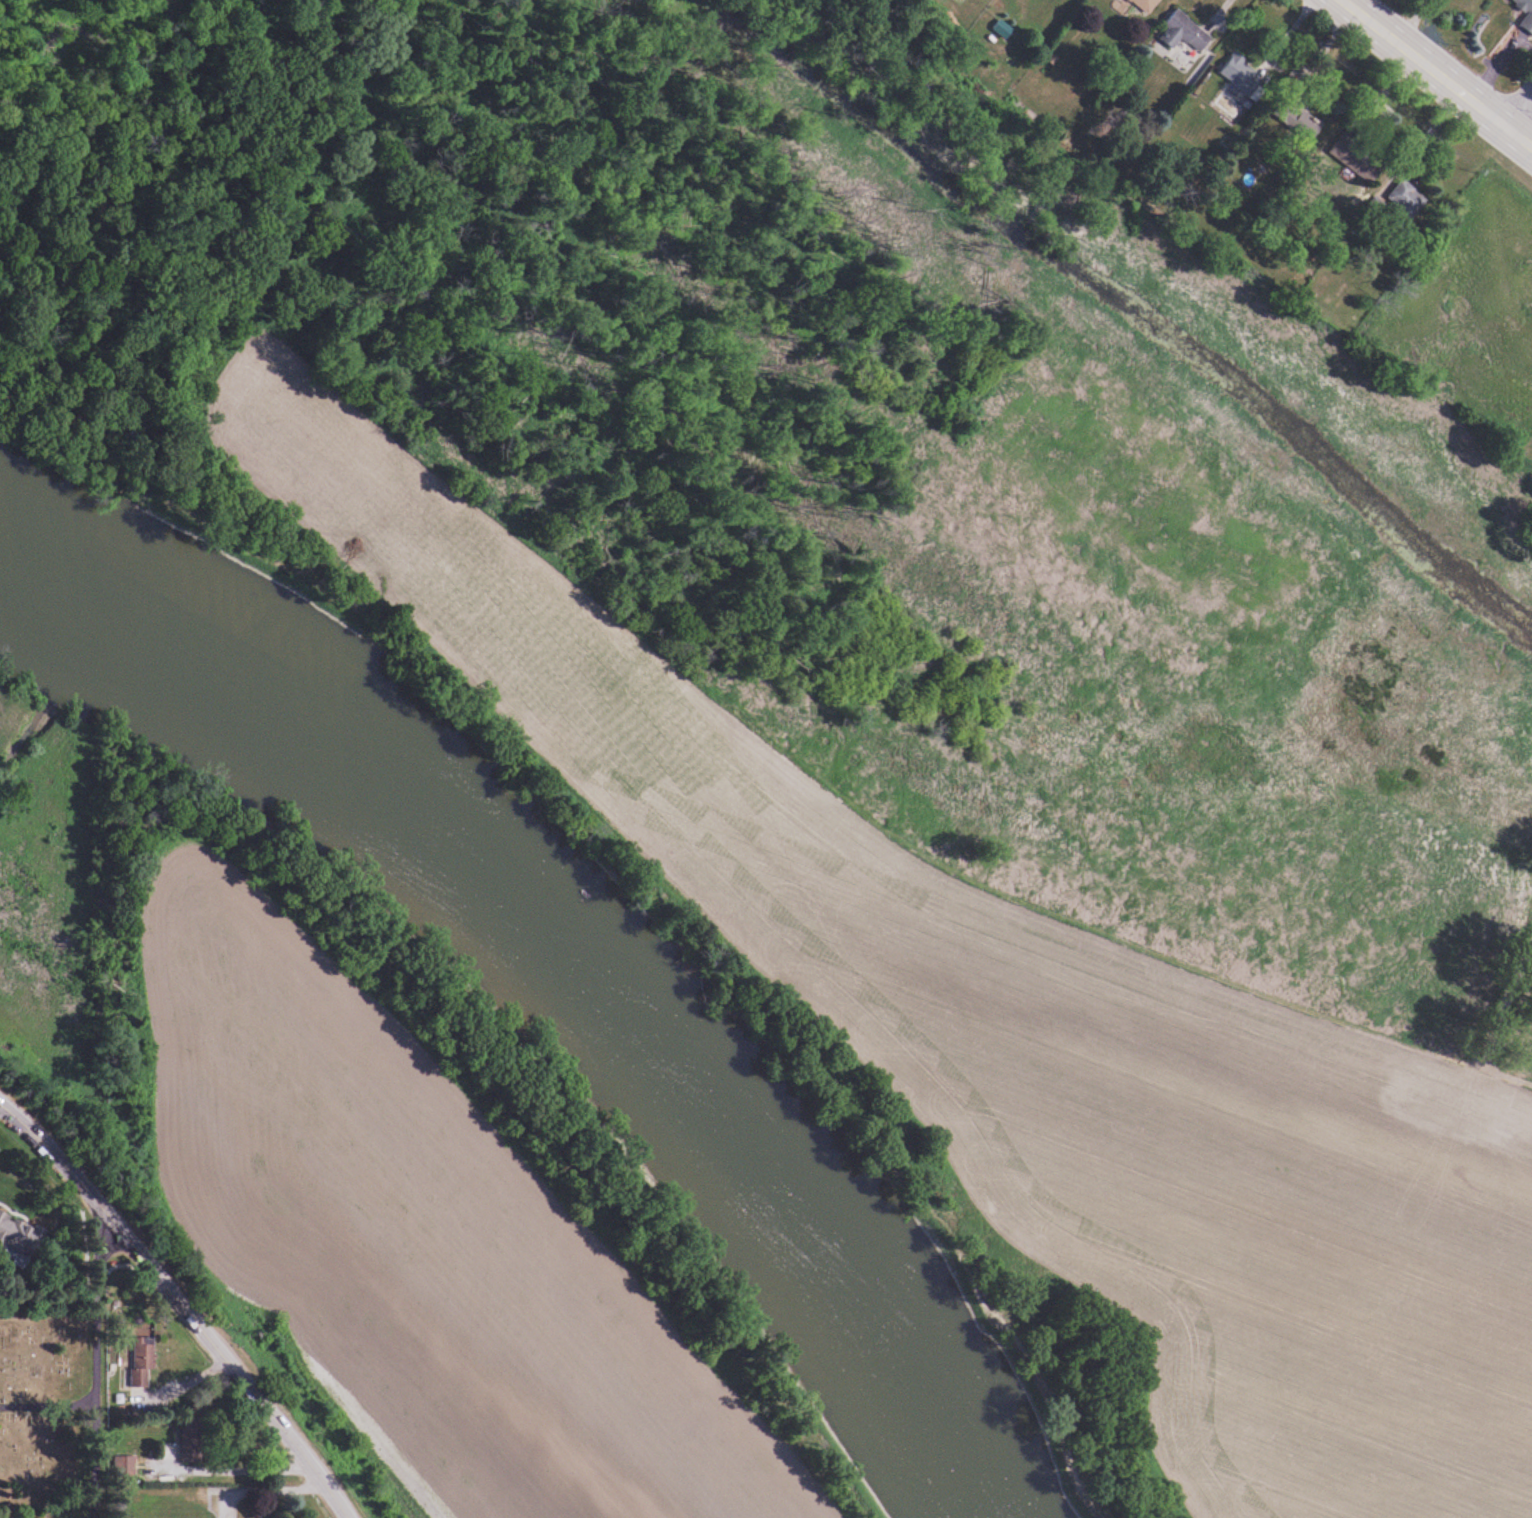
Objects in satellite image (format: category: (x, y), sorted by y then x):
building: (1144, 5)
building: (1527, 19)
road: (1408, 20)
building: (1183, 32)
building: (1241, 73)
road: (1436, 74)
road: (1517, 105)
building: (1355, 156)
building: (1406, 198)
park: (873, 662)
river: (569, 961)
building: (17, 1235)
road: (180, 1306)
road: (99, 1313)
building: (142, 1365)
road: (48, 1406)
park: (54, 1411)
building: (192, 1441)
road: (93, 1460)

